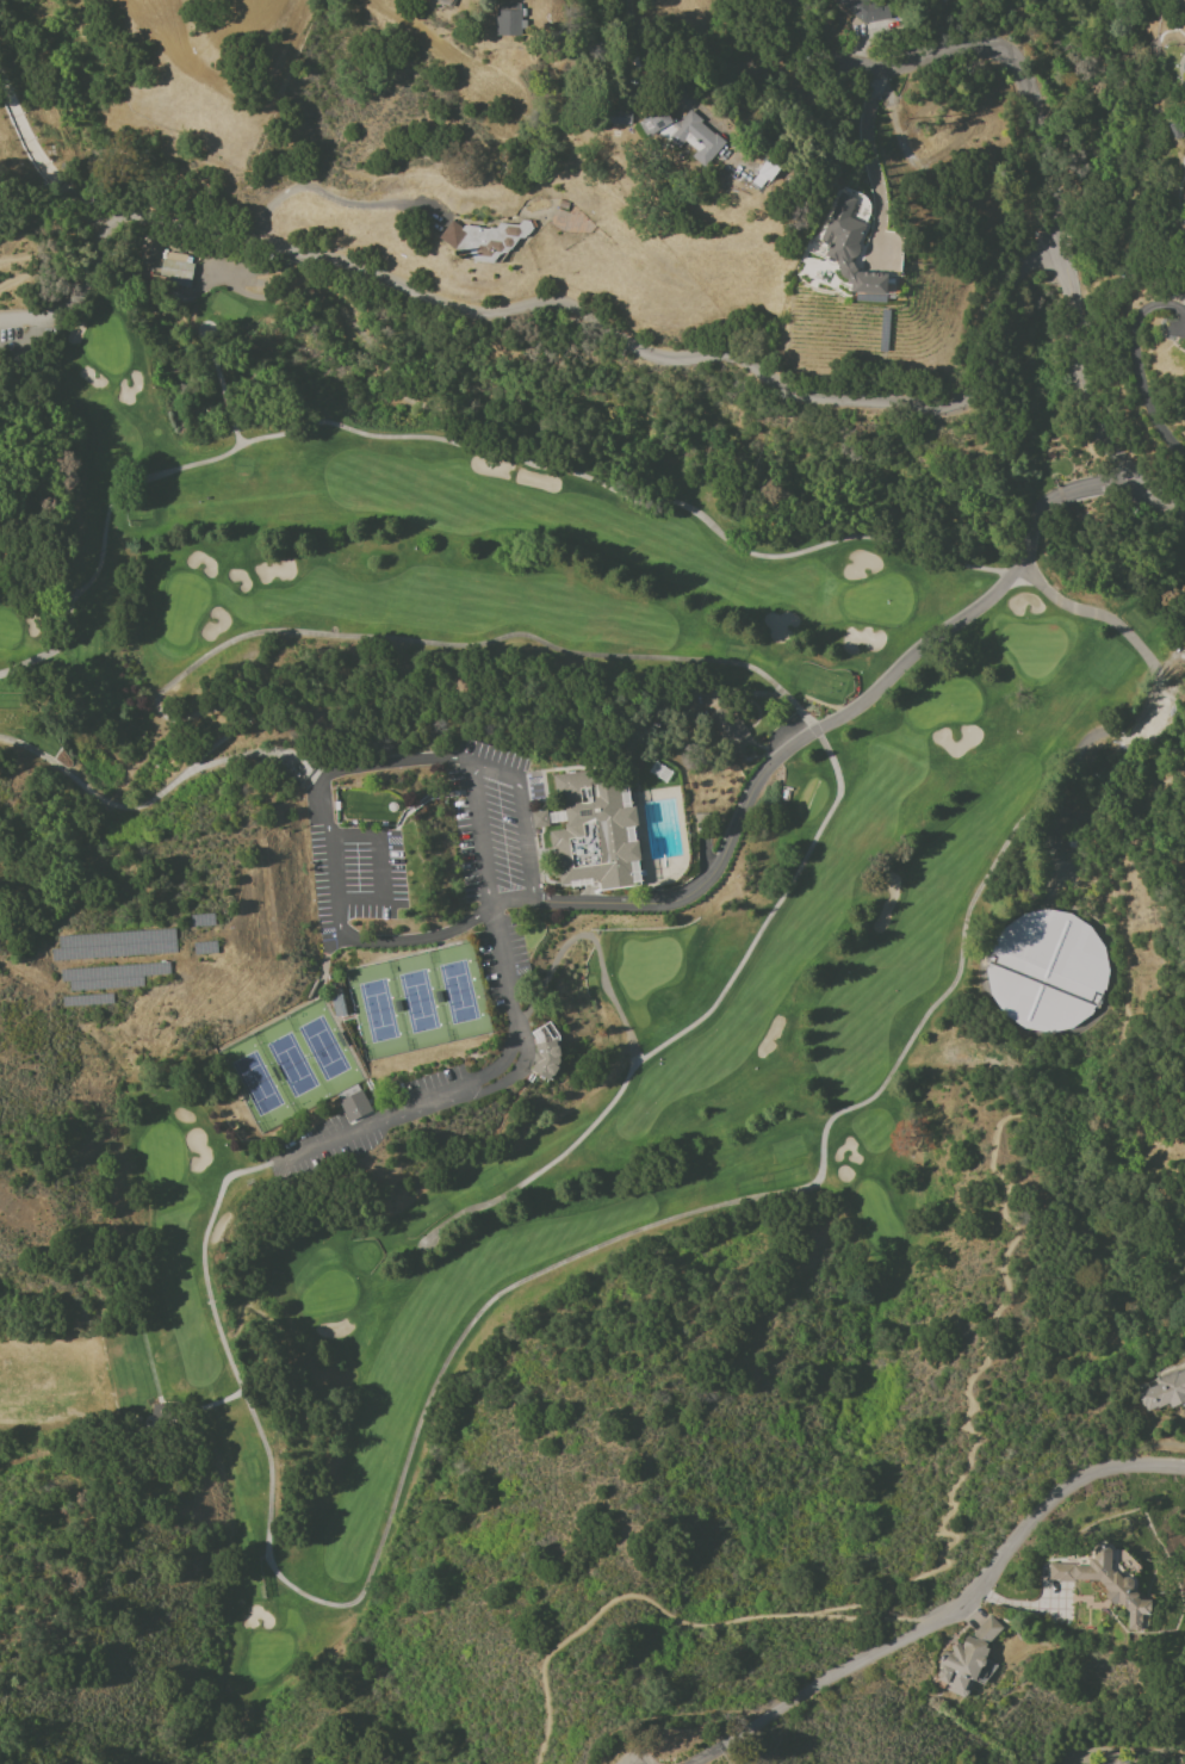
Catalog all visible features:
building: (446, 2)
building: (1180, 6)
road: (621, 8)
building: (868, 10)
building: (507, 18)
road: (979, 48)
building: (615, 119)
building: (683, 132)
road: (867, 156)
road: (43, 165)
building: (764, 175)
road: (329, 196)
building: (563, 204)
building: (484, 239)
building: (849, 248)
road: (30, 267)
building: (175, 268)
road: (29, 317)
road: (577, 318)
road: (25, 340)
parking lot: (26, 340)
road: (1135, 365)
road: (1091, 397)
road: (818, 725)
building: (728, 726)
road: (379, 765)
road: (485, 769)
building: (539, 819)
building: (589, 833)
road: (378, 866)
parking lot: (496, 866)
road: (335, 877)
parking lot: (356, 878)
road: (418, 940)
road: (501, 960)
building: (1048, 971)
park: (415, 998)
park: (784, 1010)
road: (504, 1057)
park: (289, 1064)
parking lot: (433, 1081)
road: (438, 1101)
building: (354, 1106)
road: (392, 1115)
road: (337, 1144)
parking lot: (325, 1146)
road: (1005, 1218)
building: (1164, 1392)
road: (1037, 1514)
building: (1106, 1585)
road: (677, 1617)
road: (900, 1640)
road: (780, 1706)

